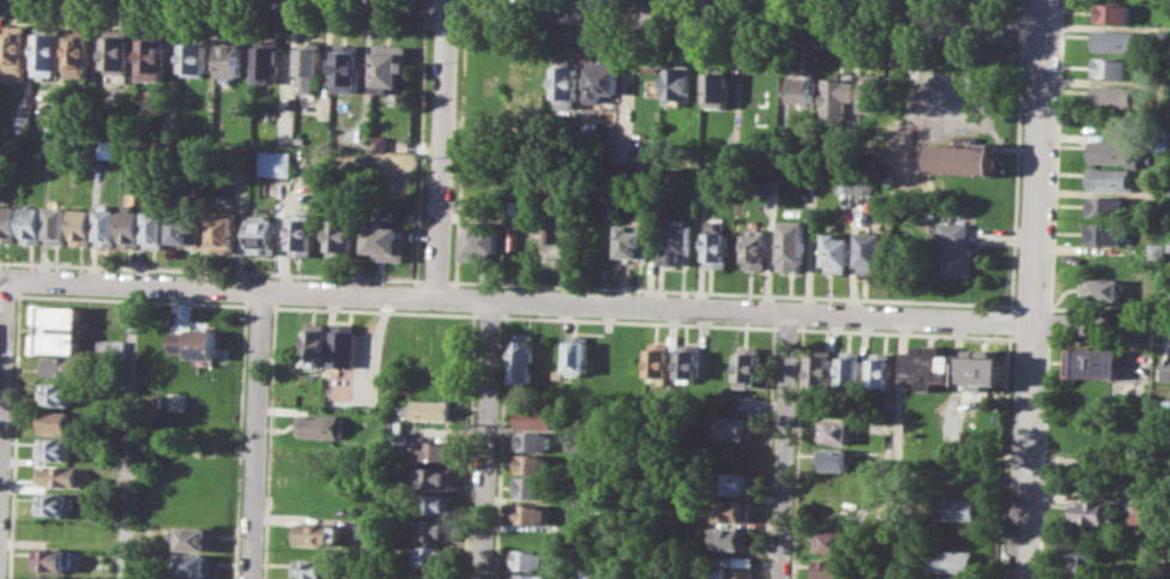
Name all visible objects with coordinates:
road: (942, 4)
road: (424, 7)
road: (465, 7)
road: (1023, 7)
building: (1114, 12)
road: (216, 13)
road: (724, 16)
road: (444, 25)
road: (1023, 29)
road: (738, 40)
building: (1115, 41)
building: (16, 49)
building: (48, 50)
building: (79, 52)
building: (115, 53)
building: (193, 55)
building: (151, 58)
building: (230, 59)
building: (267, 61)
building: (309, 65)
building: (1112, 66)
building: (348, 67)
building: (388, 67)
building: (523, 73)
building: (601, 79)
building: (565, 83)
building: (676, 85)
building: (801, 85)
building: (714, 88)
building: (873, 91)
building: (1111, 95)
building: (836, 96)
parking lot: (954, 107)
building: (23, 122)
building: (56, 122)
building: (605, 137)
building: (1163, 140)
building: (379, 141)
building: (48, 145)
road: (420, 147)
road: (439, 147)
building: (104, 149)
road: (459, 149)
building: (1115, 152)
building: (638, 155)
road: (1056, 155)
building: (963, 157)
building: (275, 162)
road: (1015, 173)
building: (704, 175)
building: (1112, 179)
building: (846, 181)
building: (864, 182)
building: (768, 185)
building: (562, 199)
building: (1106, 206)
building: (928, 210)
building: (8, 222)
building: (32, 224)
building: (58, 224)
building: (82, 225)
building: (107, 227)
building: (129, 227)
building: (183, 228)
building: (155, 229)
building: (543, 229)
building: (223, 231)
building: (302, 231)
building: (264, 233)
building: (1104, 233)
building: (342, 237)
building: (481, 239)
building: (675, 239)
building: (385, 240)
building: (1169, 241)
building: (628, 242)
building: (714, 246)
building: (791, 246)
building: (754, 248)
building: (954, 249)
building: (870, 251)
building: (837, 252)
road: (210, 270)
road: (434, 284)
building: (1104, 288)
road: (1032, 289)
road: (8, 291)
road: (18, 292)
road: (731, 292)
road: (260, 303)
road: (585, 303)
road: (1013, 304)
road: (1031, 304)
road: (376, 310)
road: (489, 312)
road: (639, 320)
road: (1013, 320)
road: (18, 321)
road: (786, 324)
building: (60, 327)
road: (1011, 334)
building: (316, 339)
building: (197, 342)
building: (344, 343)
building: (110, 346)
road: (1008, 351)
building: (577, 354)
road: (2, 356)
building: (661, 356)
building: (523, 357)
building: (688, 360)
building: (1096, 362)
building: (748, 364)
building: (60, 366)
building: (930, 366)
building: (852, 368)
building: (984, 368)
building: (1166, 368)
building: (821, 370)
building: (881, 370)
building: (55, 394)
building: (151, 402)
building: (429, 409)
building: (536, 417)
building: (56, 422)
building: (321, 426)
building: (394, 426)
building: (736, 427)
road: (126, 432)
building: (837, 432)
road: (254, 434)
building: (1098, 434)
road: (270, 440)
road: (486, 440)
building: (531, 440)
road: (240, 441)
building: (397, 441)
building: (571, 441)
road: (785, 445)
road: (468, 446)
road: (500, 447)
road: (899, 447)
building: (53, 448)
building: (438, 450)
road: (767, 452)
road: (797, 453)
building: (836, 458)
building: (321, 459)
building: (532, 464)
building: (59, 476)
building: (433, 476)
building: (731, 482)
building: (532, 487)
building: (433, 502)
building: (53, 503)
building: (102, 505)
building: (961, 507)
building: (730, 509)
building: (1092, 511)
building: (529, 512)
building: (366, 526)
building: (435, 529)
building: (315, 533)
building: (730, 537)
building: (194, 538)
building: (833, 542)
building: (435, 556)
building: (50, 557)
building: (1086, 557)
building: (527, 559)
building: (954, 560)
building: (195, 563)
building: (314, 568)
building: (833, 568)
building: (591, 572)
building: (614, 572)
building: (638, 572)
building: (716, 572)
building: (742, 573)
building: (662, 574)
building: (688, 574)
building: (435, 575)
building: (527, 575)
building: (48, 577)
building: (953, 577)

